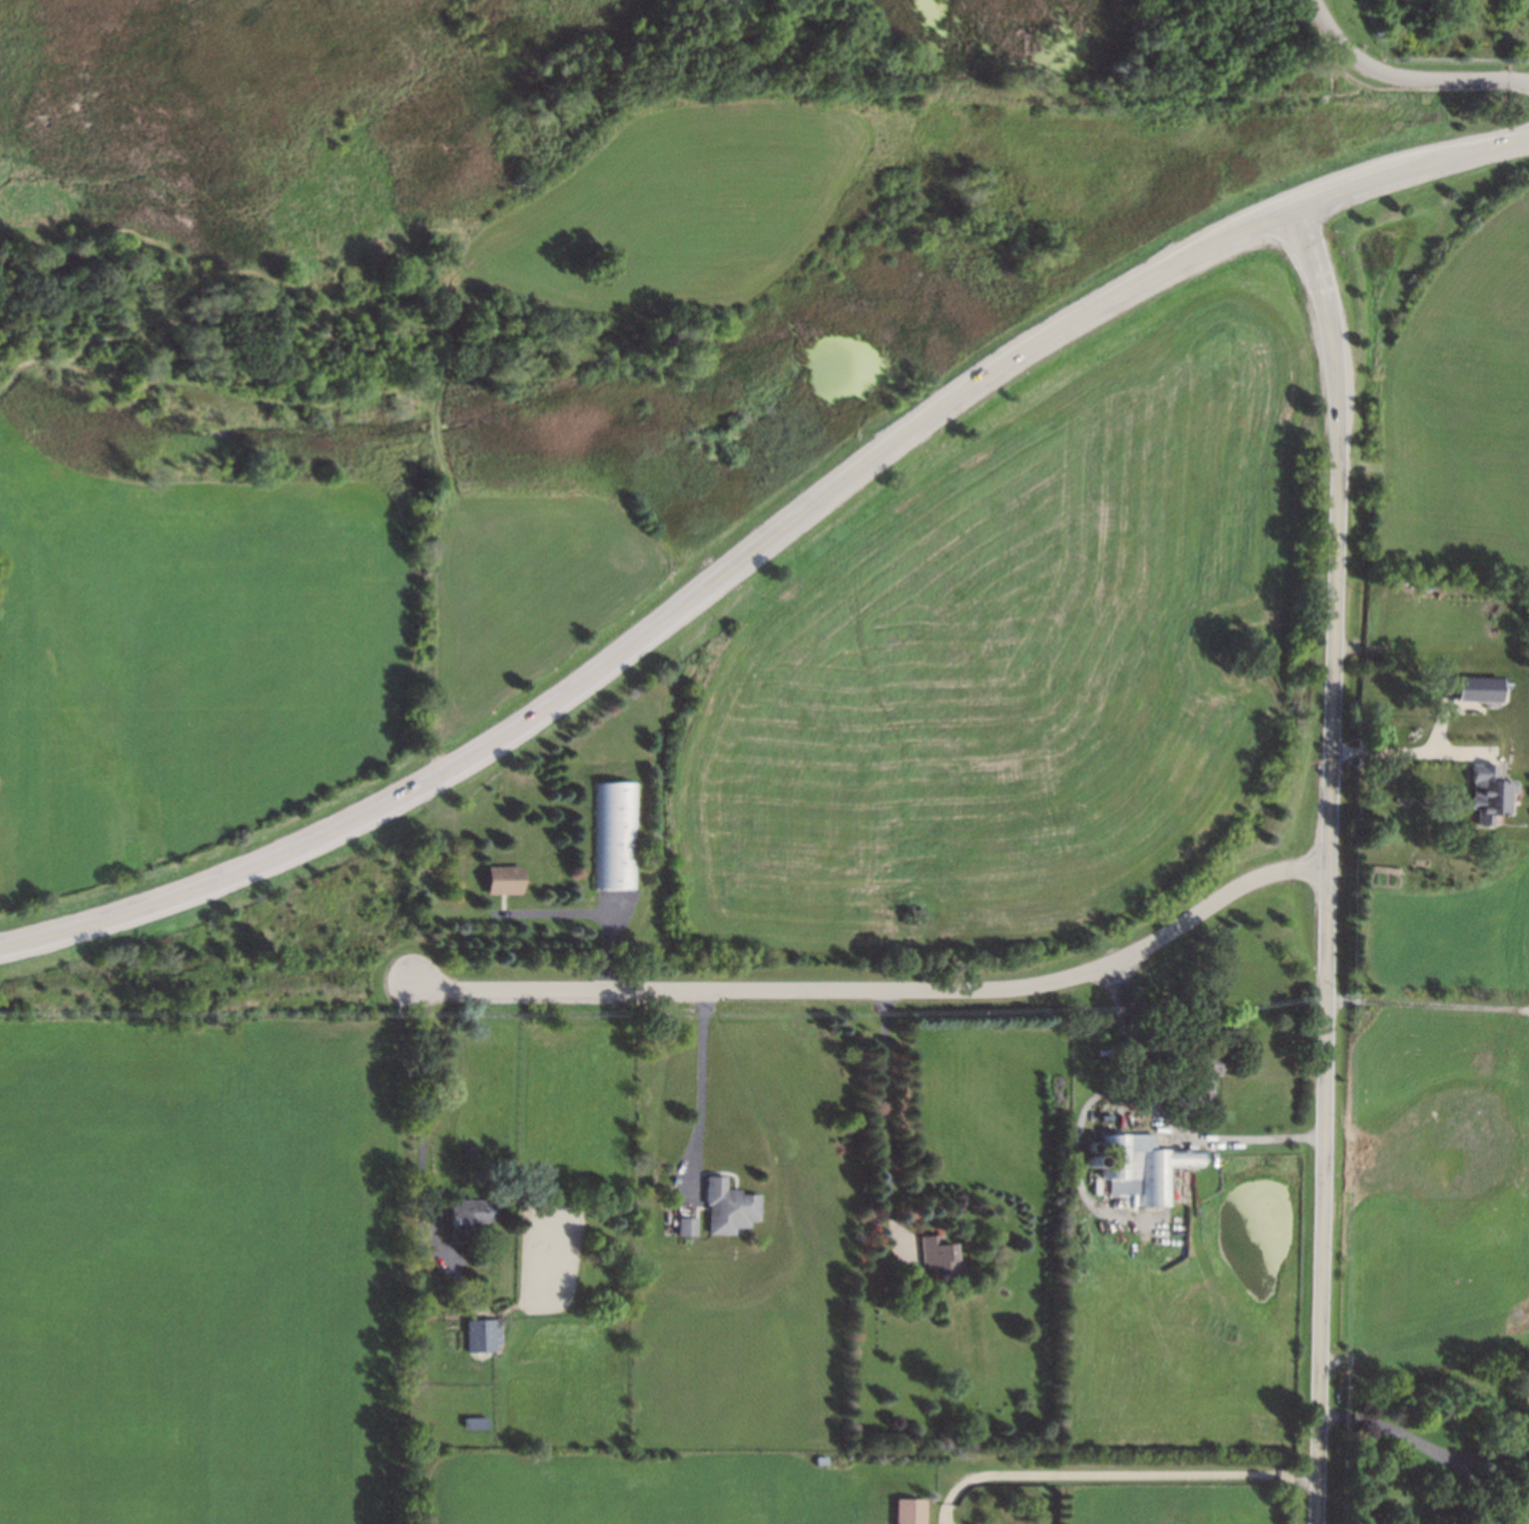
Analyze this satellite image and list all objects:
road: (1406, 76)
road: (1340, 458)
road: (764, 544)
building: (1480, 690)
road: (1407, 750)
building: (1490, 794)
building: (616, 836)
building: (506, 881)
road: (887, 990)
road: (1429, 1002)
road: (1125, 1071)
road: (704, 1100)
road: (888, 1116)
road: (1326, 1119)
road: (1255, 1138)
building: (1146, 1165)
building: (733, 1207)
building: (467, 1217)
building: (691, 1227)
building: (941, 1257)
building: (484, 1335)
road: (1431, 1449)
road: (1491, 1455)
road: (1116, 1474)
building: (911, 1511)

